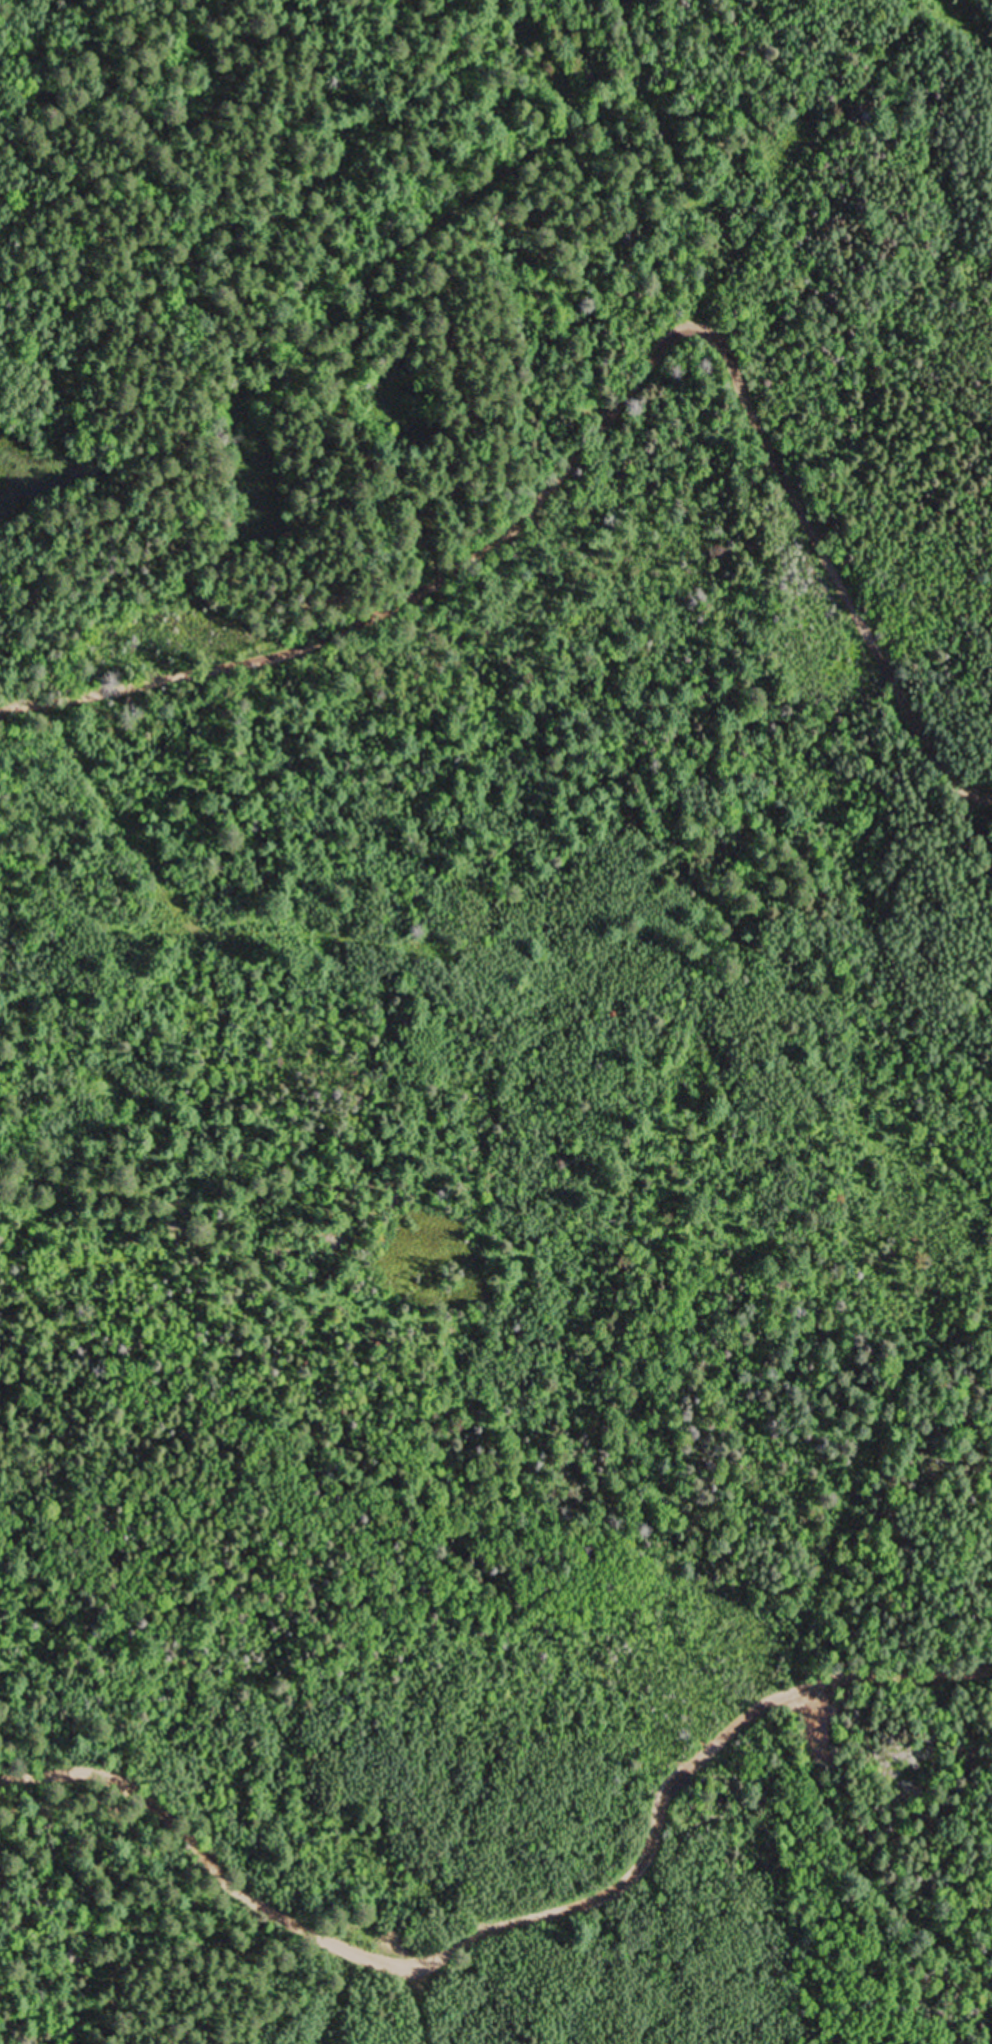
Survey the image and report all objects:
road: (809, 160)
road: (609, 418)
road: (112, 808)
road: (514, 1923)

